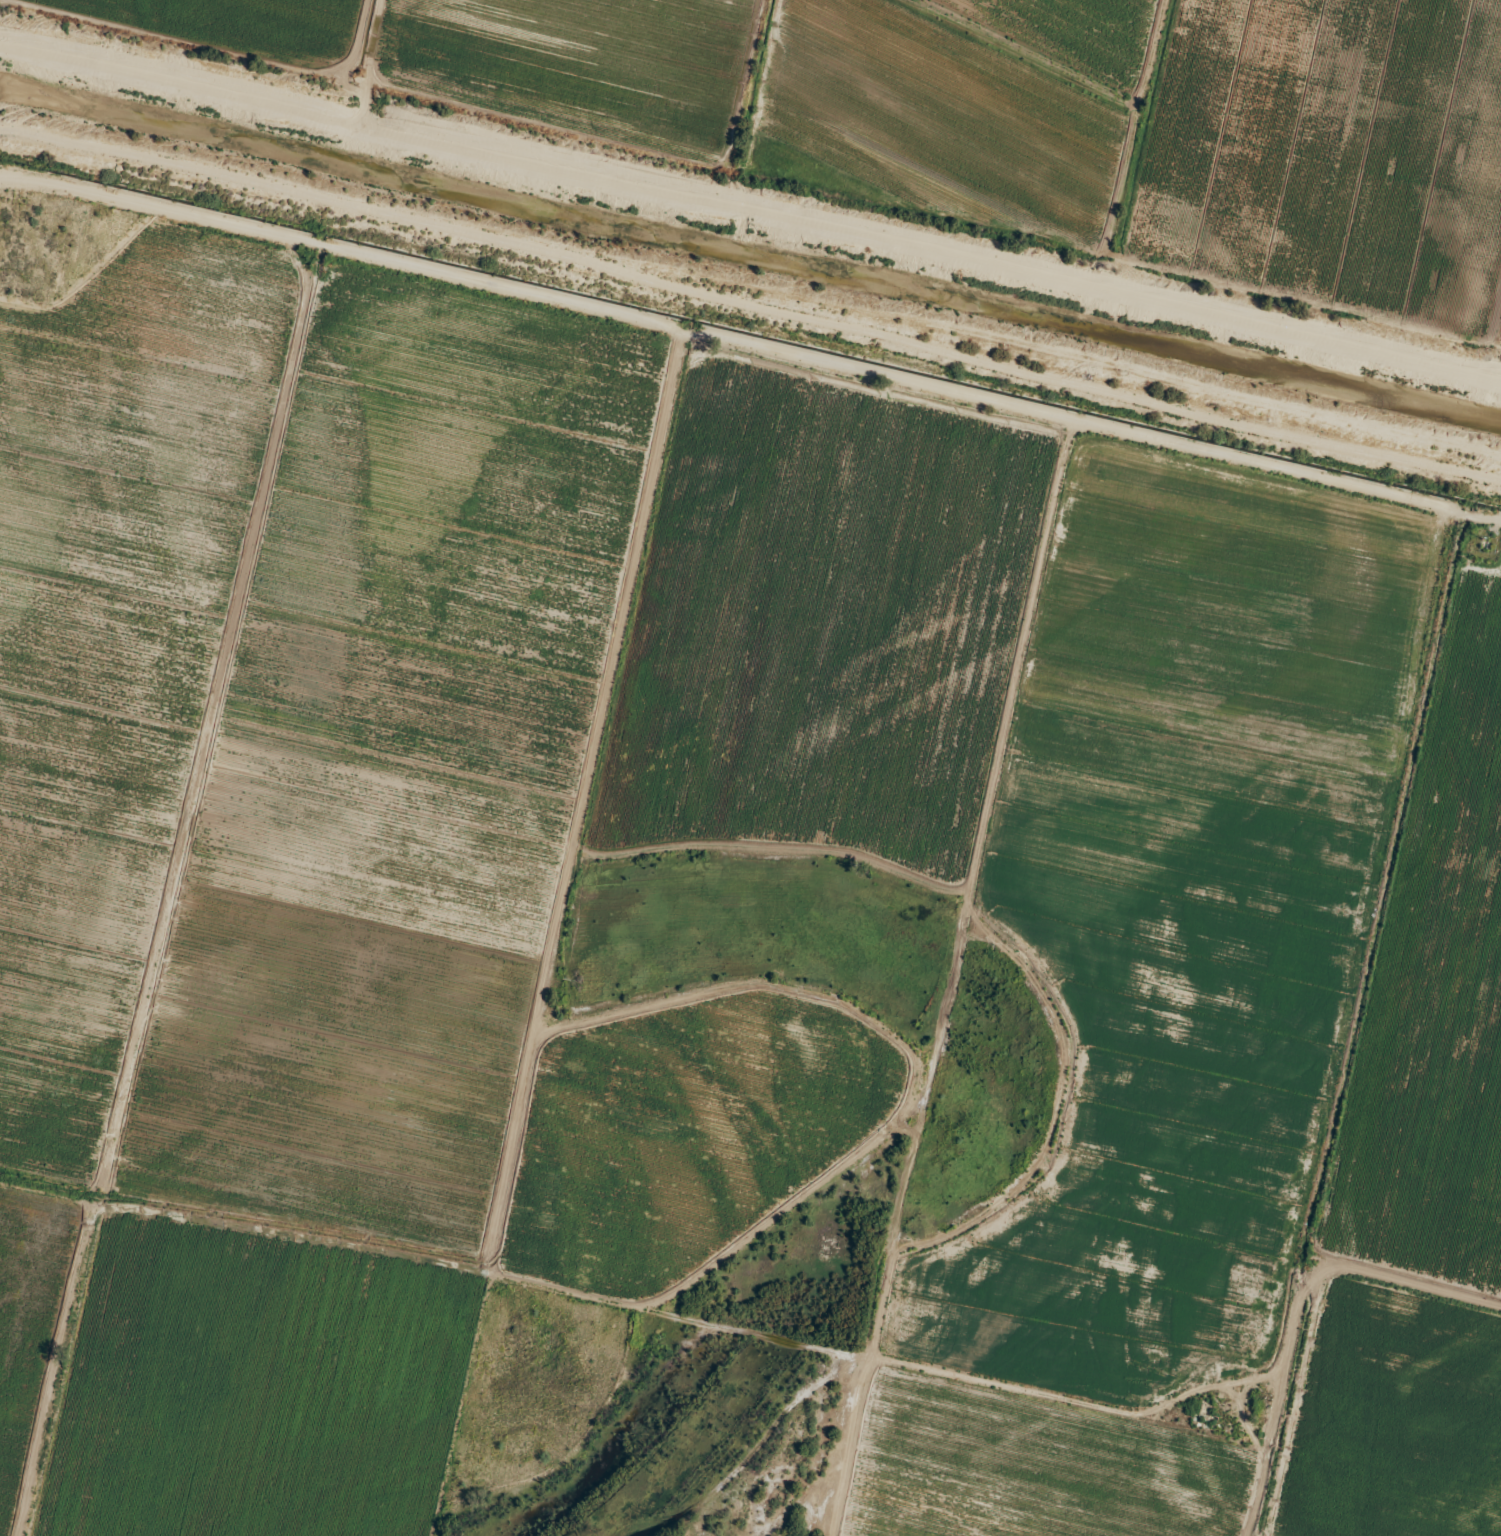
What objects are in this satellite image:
crop: (1007, 118)

